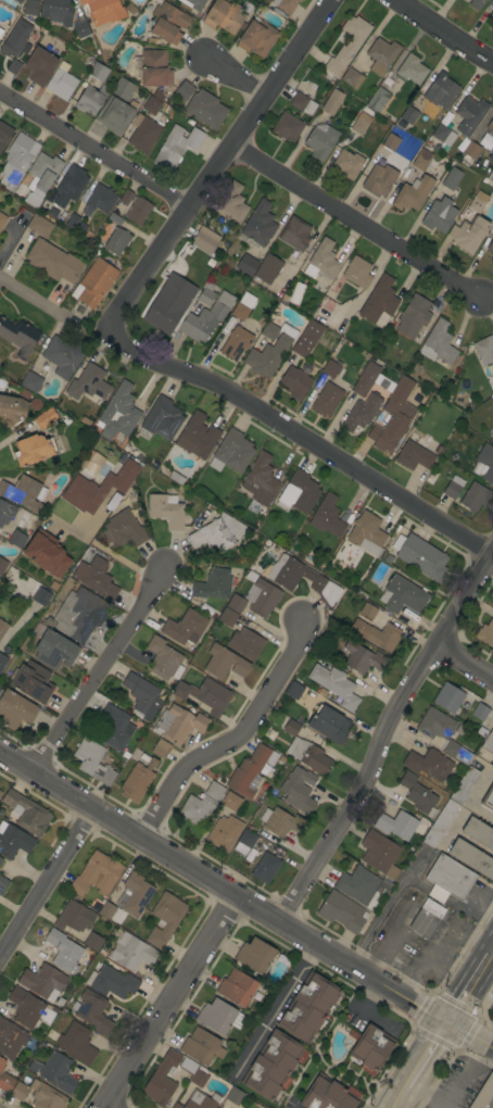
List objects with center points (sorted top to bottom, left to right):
building: (20, 0)
building: (193, 3)
building: (476, 3)
building: (285, 4)
building: (30, 7)
building: (129, 8)
building: (56, 11)
building: (102, 11)
building: (491, 14)
building: (225, 16)
building: (167, 23)
building: (80, 28)
road: (445, 29)
building: (0, 30)
building: (20, 37)
building: (257, 38)
building: (43, 39)
building: (345, 48)
building: (381, 55)
building: (39, 65)
building: (13, 66)
building: (152, 68)
building: (412, 70)
building: (98, 72)
road: (233, 75)
building: (352, 78)
building: (61, 81)
building: (122, 88)
building: (184, 90)
building: (440, 91)
building: (156, 93)
building: (91, 99)
building: (378, 99)
building: (331, 102)
building: (302, 103)
building: (151, 105)
building: (205, 109)
building: (470, 114)
building: (114, 115)
building: (408, 115)
building: (189, 121)
building: (359, 124)
building: (490, 125)
building: (288, 126)
building: (143, 133)
building: (440, 133)
building: (4, 134)
building: (477, 136)
building: (320, 141)
building: (485, 141)
building: (390, 142)
building: (176, 146)
building: (491, 147)
road: (91, 149)
building: (471, 150)
building: (17, 159)
road: (215, 159)
building: (421, 160)
building: (347, 163)
building: (492, 168)
building: (45, 169)
building: (452, 178)
building: (379, 179)
building: (73, 182)
building: (413, 193)
building: (126, 197)
building: (34, 198)
building: (99, 200)
building: (476, 202)
building: (231, 203)
building: (138, 210)
building: (52, 212)
building: (439, 214)
building: (114, 218)
building: (2, 219)
building: (72, 221)
road: (352, 222)
building: (260, 224)
building: (39, 226)
building: (469, 232)
building: (295, 234)
building: (205, 240)
building: (116, 241)
building: (490, 247)
building: (324, 260)
building: (53, 261)
building: (246, 264)
building: (268, 268)
building: (357, 272)
building: (93, 284)
building: (173, 290)
building: (295, 292)
building: (206, 293)
road: (37, 300)
building: (379, 302)
building: (242, 306)
building: (167, 313)
building: (332, 315)
building: (413, 316)
building: (206, 318)
building: (268, 330)
building: (20, 336)
building: (307, 338)
building: (236, 342)
building: (438, 343)
building: (484, 350)
building: (270, 353)
building: (63, 355)
building: (330, 368)
building: (30, 381)
building: (295, 382)
building: (88, 383)
building: (327, 399)
building: (387, 405)
building: (11, 411)
building: (362, 412)
building: (118, 413)
building: (46, 418)
building: (162, 418)
building: (85, 420)
building: (491, 432)
building: (197, 437)
road: (295, 440)
building: (34, 449)
building: (438, 449)
building: (231, 452)
building: (415, 456)
building: (91, 463)
building: (484, 463)
building: (176, 477)
building: (261, 480)
building: (98, 487)
building: (452, 487)
building: (24, 492)
building: (299, 492)
building: (475, 496)
building: (113, 501)
building: (166, 509)
building: (5, 512)
building: (327, 516)
building: (123, 529)
building: (217, 532)
building: (367, 533)
building: (16, 539)
building: (47, 553)
building: (420, 556)
building: (2, 566)
building: (96, 577)
building: (285, 581)
building: (213, 584)
building: (402, 595)
building: (41, 596)
building: (262, 597)
building: (236, 603)
building: (492, 607)
building: (368, 610)
building: (79, 614)
building: (227, 617)
building: (2, 627)
building: (185, 627)
building: (485, 633)
building: (377, 634)
building: (245, 643)
building: (54, 650)
building: (362, 657)
building: (164, 659)
building: (2, 660)
road: (464, 660)
building: (224, 663)
road: (99, 671)
building: (33, 681)
building: (334, 684)
building: (293, 690)
building: (205, 694)
building: (142, 696)
building: (448, 697)
building: (15, 709)
building: (480, 712)
building: (299, 720)
building: (178, 723)
building: (435, 723)
building: (329, 725)
building: (115, 727)
road: (380, 731)
building: (481, 732)
road: (232, 740)
building: (488, 742)
building: (161, 748)
building: (305, 751)
building: (456, 752)
building: (492, 753)
building: (92, 760)
building: (428, 764)
building: (249, 772)
building: (138, 780)
building: (464, 784)
building: (298, 790)
building: (214, 791)
building: (0, 792)
building: (418, 794)
building: (488, 799)
building: (230, 802)
building: (197, 808)
building: (27, 813)
building: (280, 821)
building: (440, 823)
building: (401, 824)
building: (224, 832)
building: (479, 832)
building: (13, 840)
building: (244, 842)
building: (380, 854)
building: (472, 858)
building: (1, 859)
building: (265, 868)
building: (96, 874)
road: (43, 879)
building: (448, 879)
building: (3, 884)
building: (357, 884)
building: (134, 894)
road: (244, 902)
building: (106, 910)
building: (342, 911)
building: (74, 917)
building: (165, 918)
building: (427, 918)
building: (93, 942)
building: (65, 952)
building: (131, 953)
road: (491, 955)
building: (254, 956)
building: (43, 981)
building: (112, 982)
building: (237, 987)
road: (470, 990)
road: (167, 1002)
building: (308, 1007)
building: (29, 1008)
road: (275, 1008)
building: (91, 1011)
building: (219, 1017)
building: (11, 1038)
building: (76, 1043)
building: (201, 1046)
building: (371, 1047)
road: (430, 1054)
building: (2, 1063)
building: (271, 1065)
building: (58, 1072)
road: (470, 1075)
building: (199, 1076)
building: (162, 1079)
building: (7, 1082)
building: (484, 1094)
building: (327, 1095)
building: (46, 1096)
building: (235, 1096)
road: (402, 1097)
road: (426, 1097)
building: (199, 1100)
road: (105, 1106)
building: (267, 1107)

